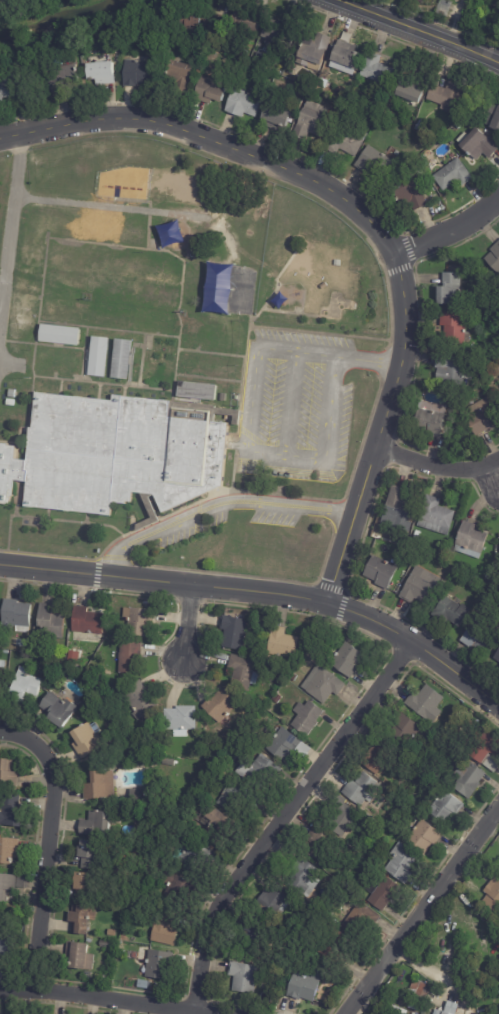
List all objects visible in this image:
building: (185, 20)
building: (245, 22)
building: (214, 23)
road: (416, 31)
building: (278, 33)
building: (154, 36)
building: (311, 50)
building: (343, 61)
building: (374, 71)
building: (288, 72)
building: (98, 74)
building: (135, 74)
building: (178, 75)
building: (53, 83)
building: (322, 84)
building: (8, 89)
building: (209, 91)
building: (410, 91)
building: (445, 97)
building: (240, 104)
building: (272, 115)
building: (492, 118)
building: (289, 121)
building: (310, 121)
building: (383, 123)
building: (459, 124)
building: (420, 127)
building: (344, 141)
road: (20, 143)
building: (475, 145)
building: (422, 161)
building: (373, 163)
building: (416, 169)
building: (451, 176)
building: (407, 195)
road: (149, 207)
road: (138, 210)
road: (371, 225)
road: (449, 230)
road: (10, 232)
road: (142, 249)
building: (493, 257)
building: (336, 263)
building: (323, 286)
building: (450, 291)
road: (273, 292)
road: (388, 292)
road: (299, 314)
building: (452, 327)
road: (108, 329)
building: (59, 334)
road: (319, 334)
road: (87, 339)
road: (42, 344)
road: (139, 345)
road: (34, 350)
road: (83, 353)
road: (212, 353)
building: (98, 356)
building: (121, 359)
road: (142, 360)
road: (367, 360)
road: (380, 362)
road: (87, 363)
road: (176, 363)
road: (12, 364)
road: (131, 368)
building: (452, 370)
road: (209, 378)
road: (85, 379)
road: (243, 379)
building: (464, 382)
road: (104, 383)
road: (129, 383)
building: (482, 384)
road: (61, 387)
road: (99, 391)
road: (124, 391)
building: (197, 391)
building: (11, 393)
building: (497, 396)
building: (222, 397)
road: (187, 400)
building: (10, 402)
road: (290, 405)
road: (208, 407)
parking lot: (296, 407)
road: (214, 416)
building: (482, 417)
building: (429, 419)
building: (407, 423)
road: (9, 442)
road: (236, 446)
road: (237, 446)
road: (247, 452)
building: (113, 455)
road: (436, 470)
road: (234, 472)
road: (495, 477)
road: (227, 493)
road: (208, 496)
road: (218, 505)
building: (396, 505)
road: (23, 506)
road: (150, 507)
road: (16, 511)
road: (46, 514)
building: (434, 516)
road: (86, 518)
parking lot: (274, 518)
road: (51, 520)
parking lot: (193, 530)
building: (415, 536)
building: (469, 540)
building: (403, 541)
building: (498, 543)
building: (380, 572)
building: (418, 587)
road: (263, 593)
building: (0, 609)
building: (452, 611)
building: (19, 615)
building: (89, 621)
building: (142, 621)
building: (53, 622)
road: (187, 623)
building: (237, 633)
building: (480, 636)
building: (23, 644)
building: (285, 644)
building: (311, 645)
building: (9, 652)
building: (260, 653)
building: (497, 655)
building: (75, 657)
building: (133, 659)
building: (351, 660)
building: (4, 664)
building: (50, 665)
building: (245, 672)
building: (3, 679)
building: (325, 685)
building: (26, 690)
building: (278, 699)
building: (144, 702)
building: (429, 703)
building: (223, 707)
building: (60, 709)
building: (255, 715)
building: (308, 717)
building: (184, 719)
building: (409, 730)
building: (88, 741)
building: (287, 744)
building: (487, 747)
building: (134, 751)
building: (383, 758)
building: (224, 770)
building: (263, 772)
building: (9, 774)
building: (471, 779)
building: (105, 786)
building: (365, 789)
building: (140, 796)
building: (239, 797)
building: (124, 798)
building: (450, 806)
building: (15, 813)
building: (345, 817)
road: (290, 821)
building: (397, 821)
building: (99, 824)
building: (220, 828)
building: (428, 838)
building: (322, 845)
road: (46, 848)
building: (10, 851)
building: (198, 855)
building: (92, 856)
building: (405, 863)
building: (308, 877)
building: (333, 885)
building: (8, 888)
building: (89, 888)
building: (179, 889)
building: (388, 893)
building: (492, 895)
building: (278, 900)
road: (423, 909)
building: (83, 920)
building: (365, 920)
building: (167, 929)
building: (113, 933)
building: (256, 934)
building: (91, 941)
building: (108, 944)
building: (337, 949)
building: (7, 951)
building: (83, 957)
building: (159, 965)
building: (89, 975)
building: (246, 978)
building: (101, 979)
building: (136, 983)
building: (145, 985)
building: (308, 987)
building: (416, 992)
road: (102, 1001)
building: (447, 1009)

